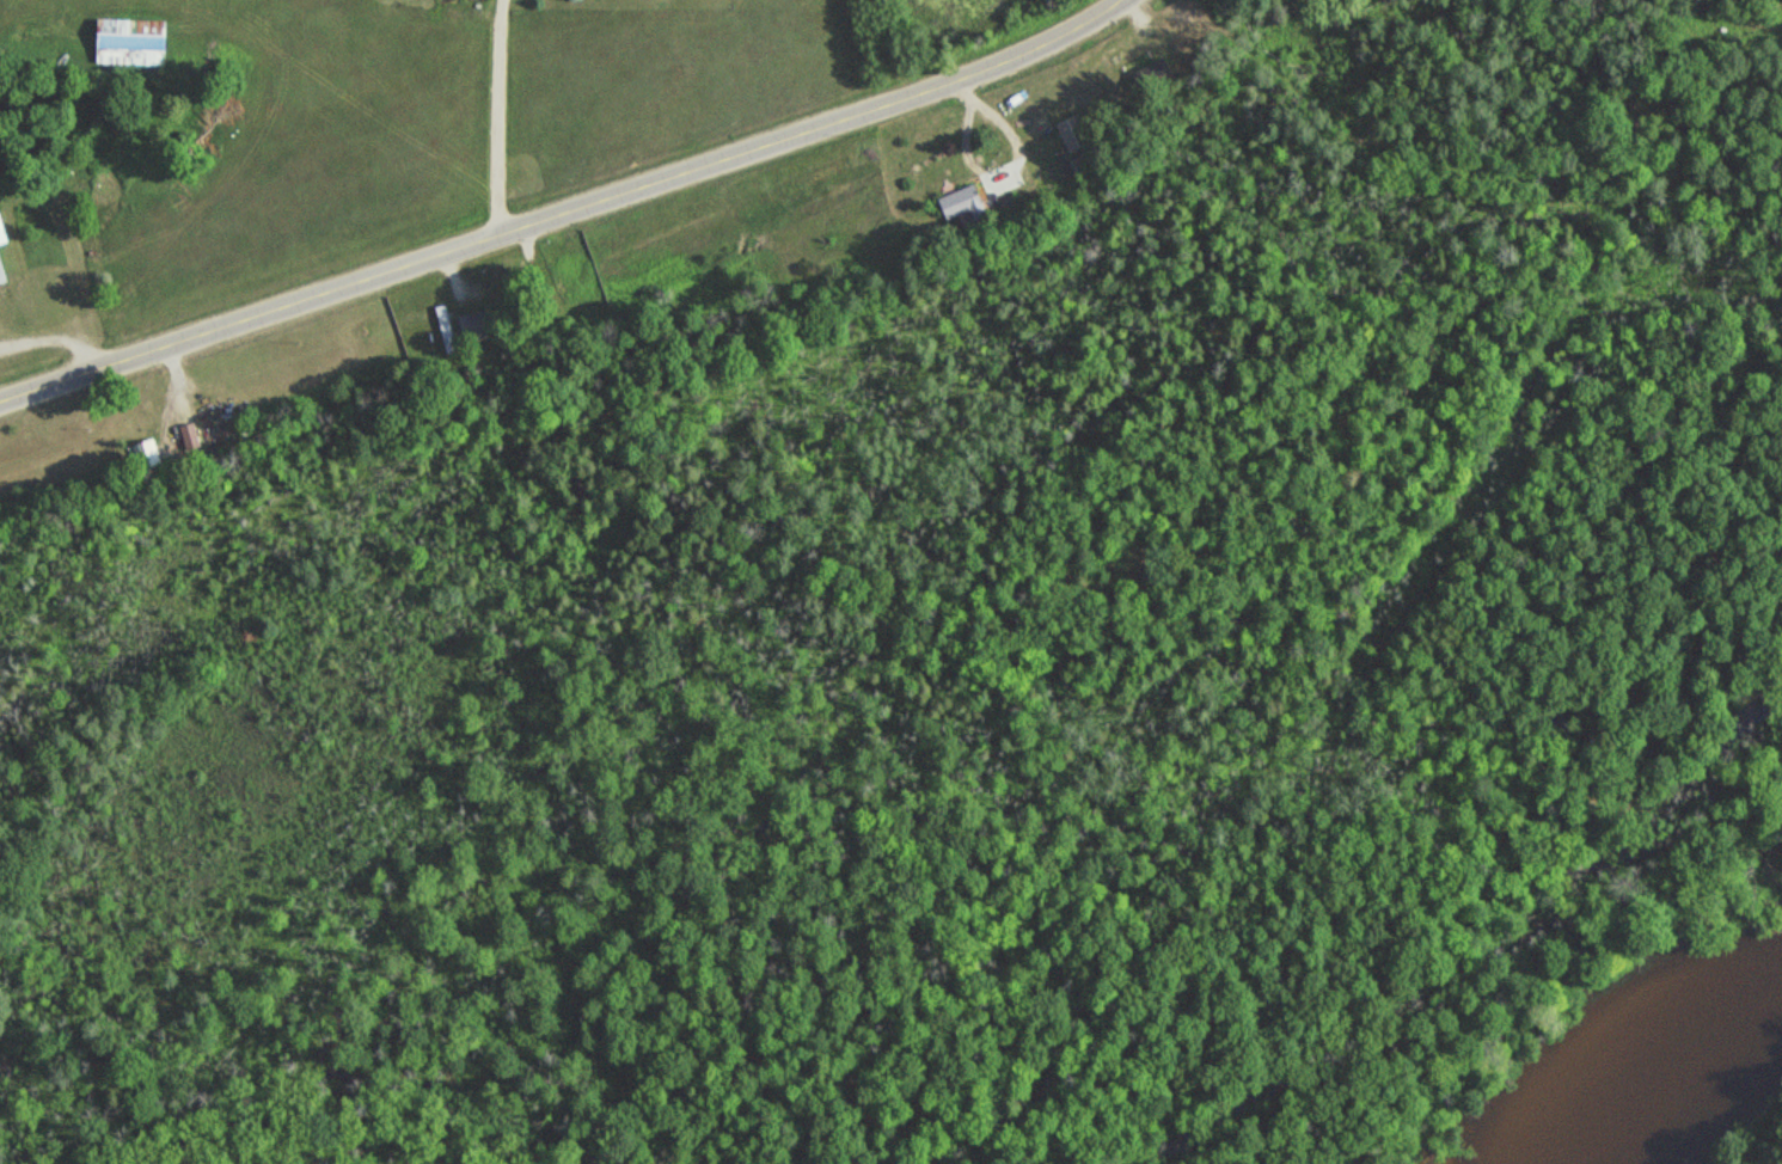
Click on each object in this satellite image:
building: (136, 42)
road: (492, 120)
building: (1073, 134)
building: (965, 202)
road: (565, 214)
building: (4, 232)
building: (474, 324)
building: (445, 330)
river: (1677, 1080)

